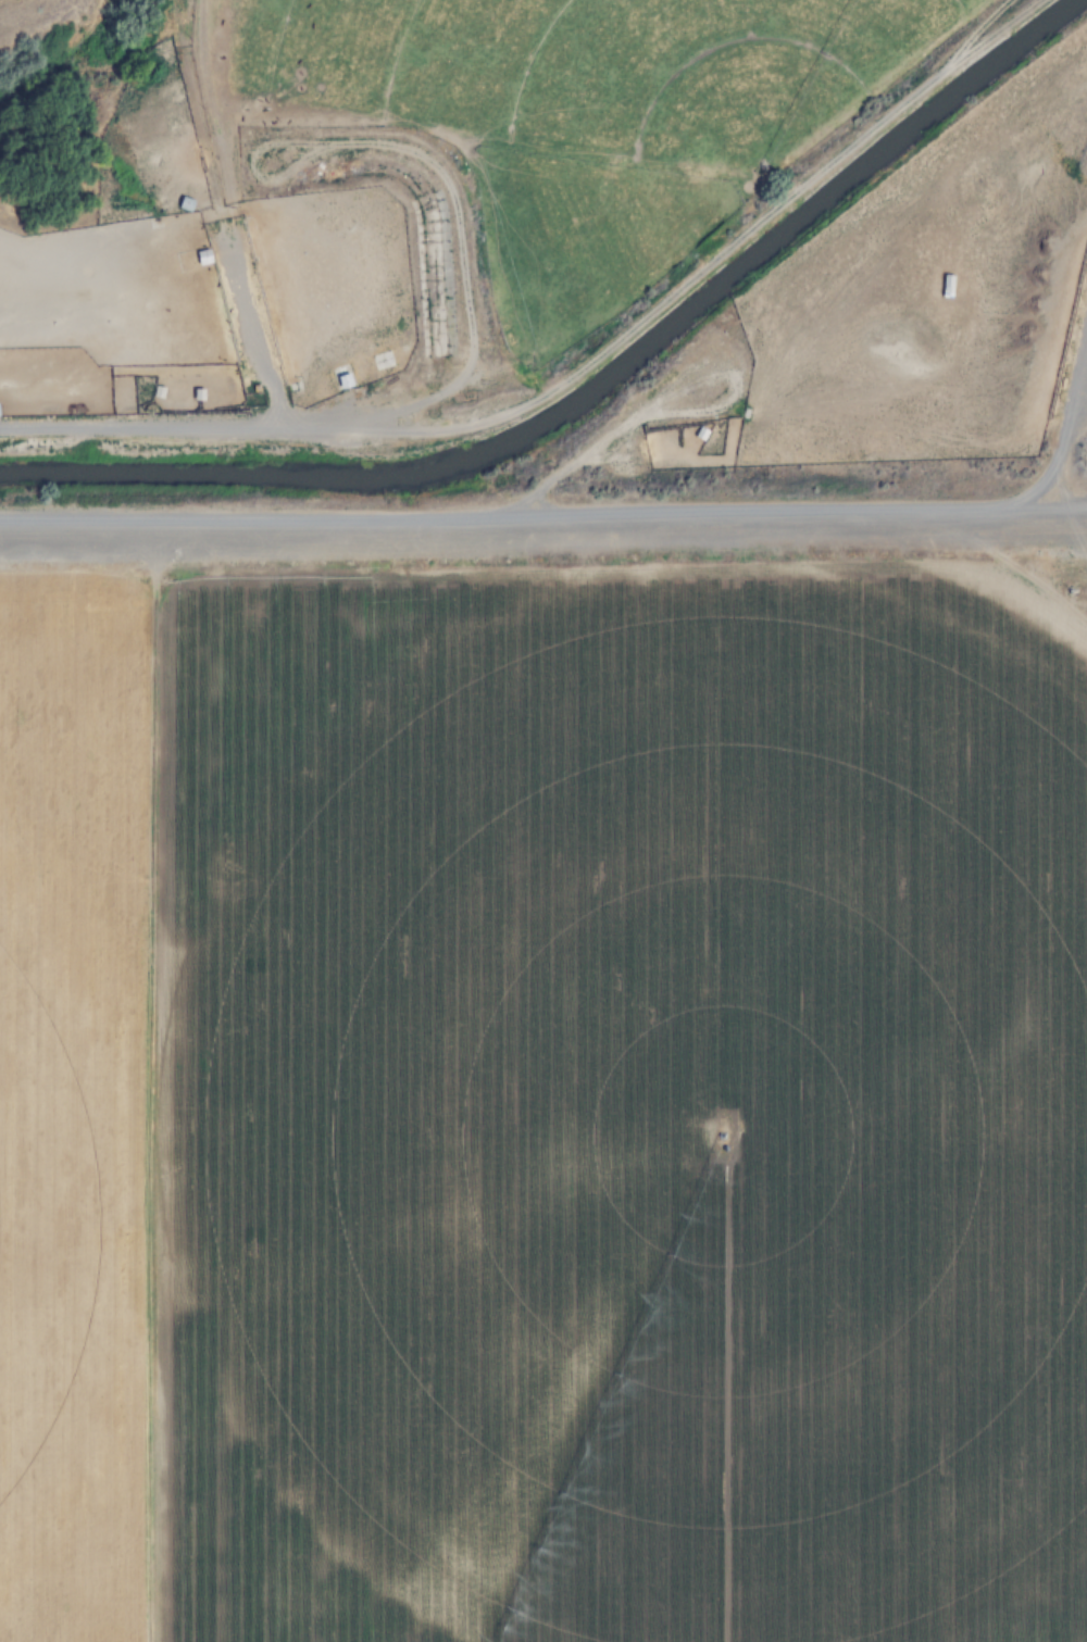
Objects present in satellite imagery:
building: (947, 287)
building: (741, 1103)

